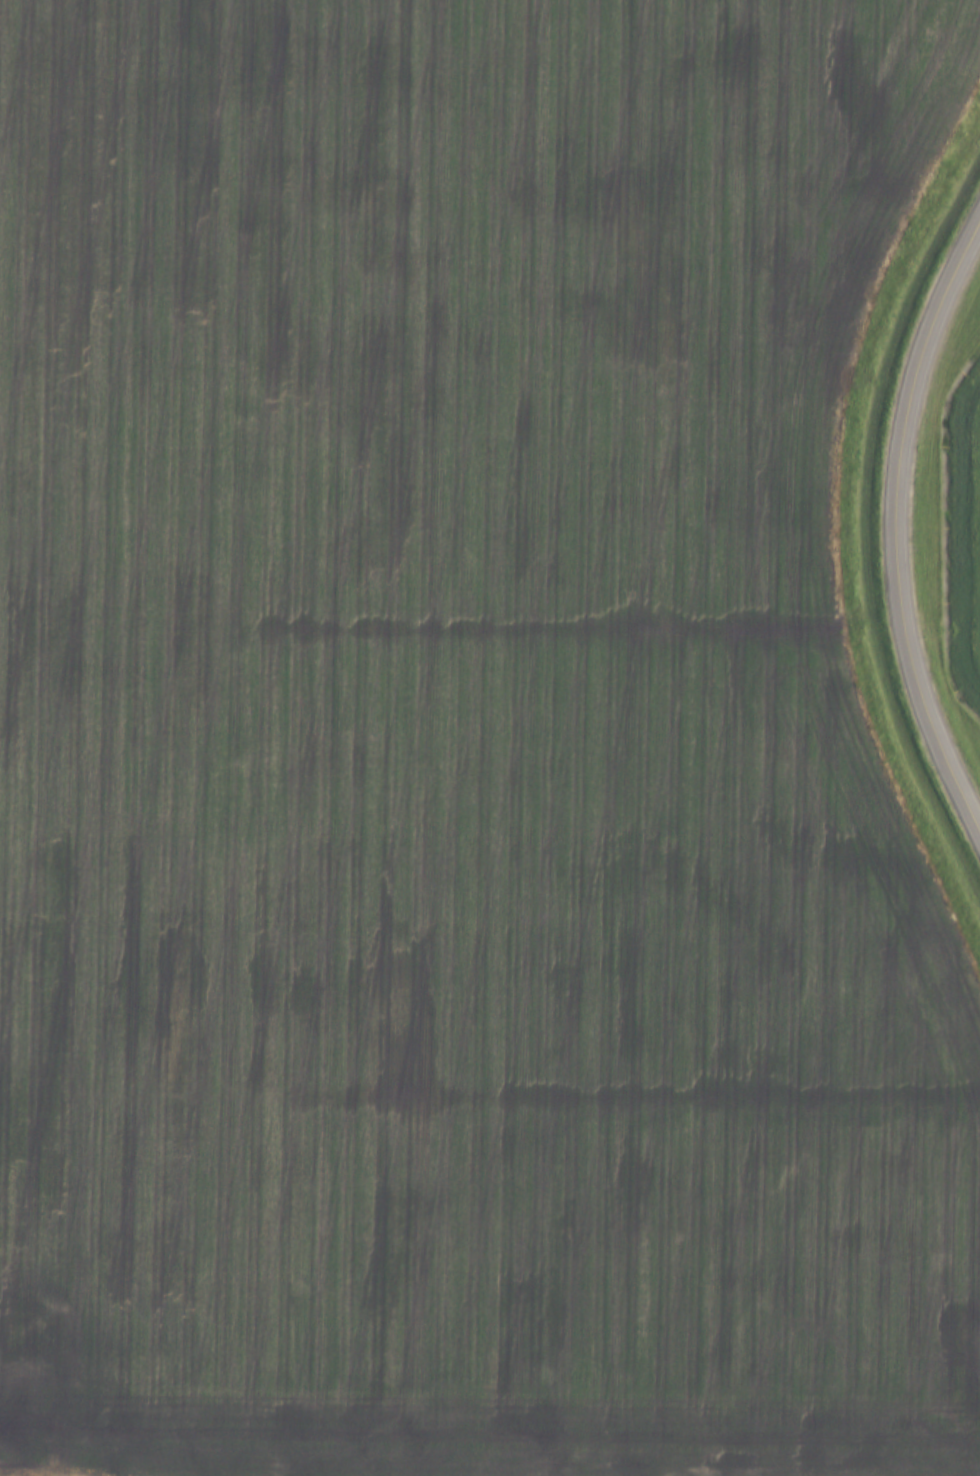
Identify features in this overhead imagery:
road: (894, 526)

